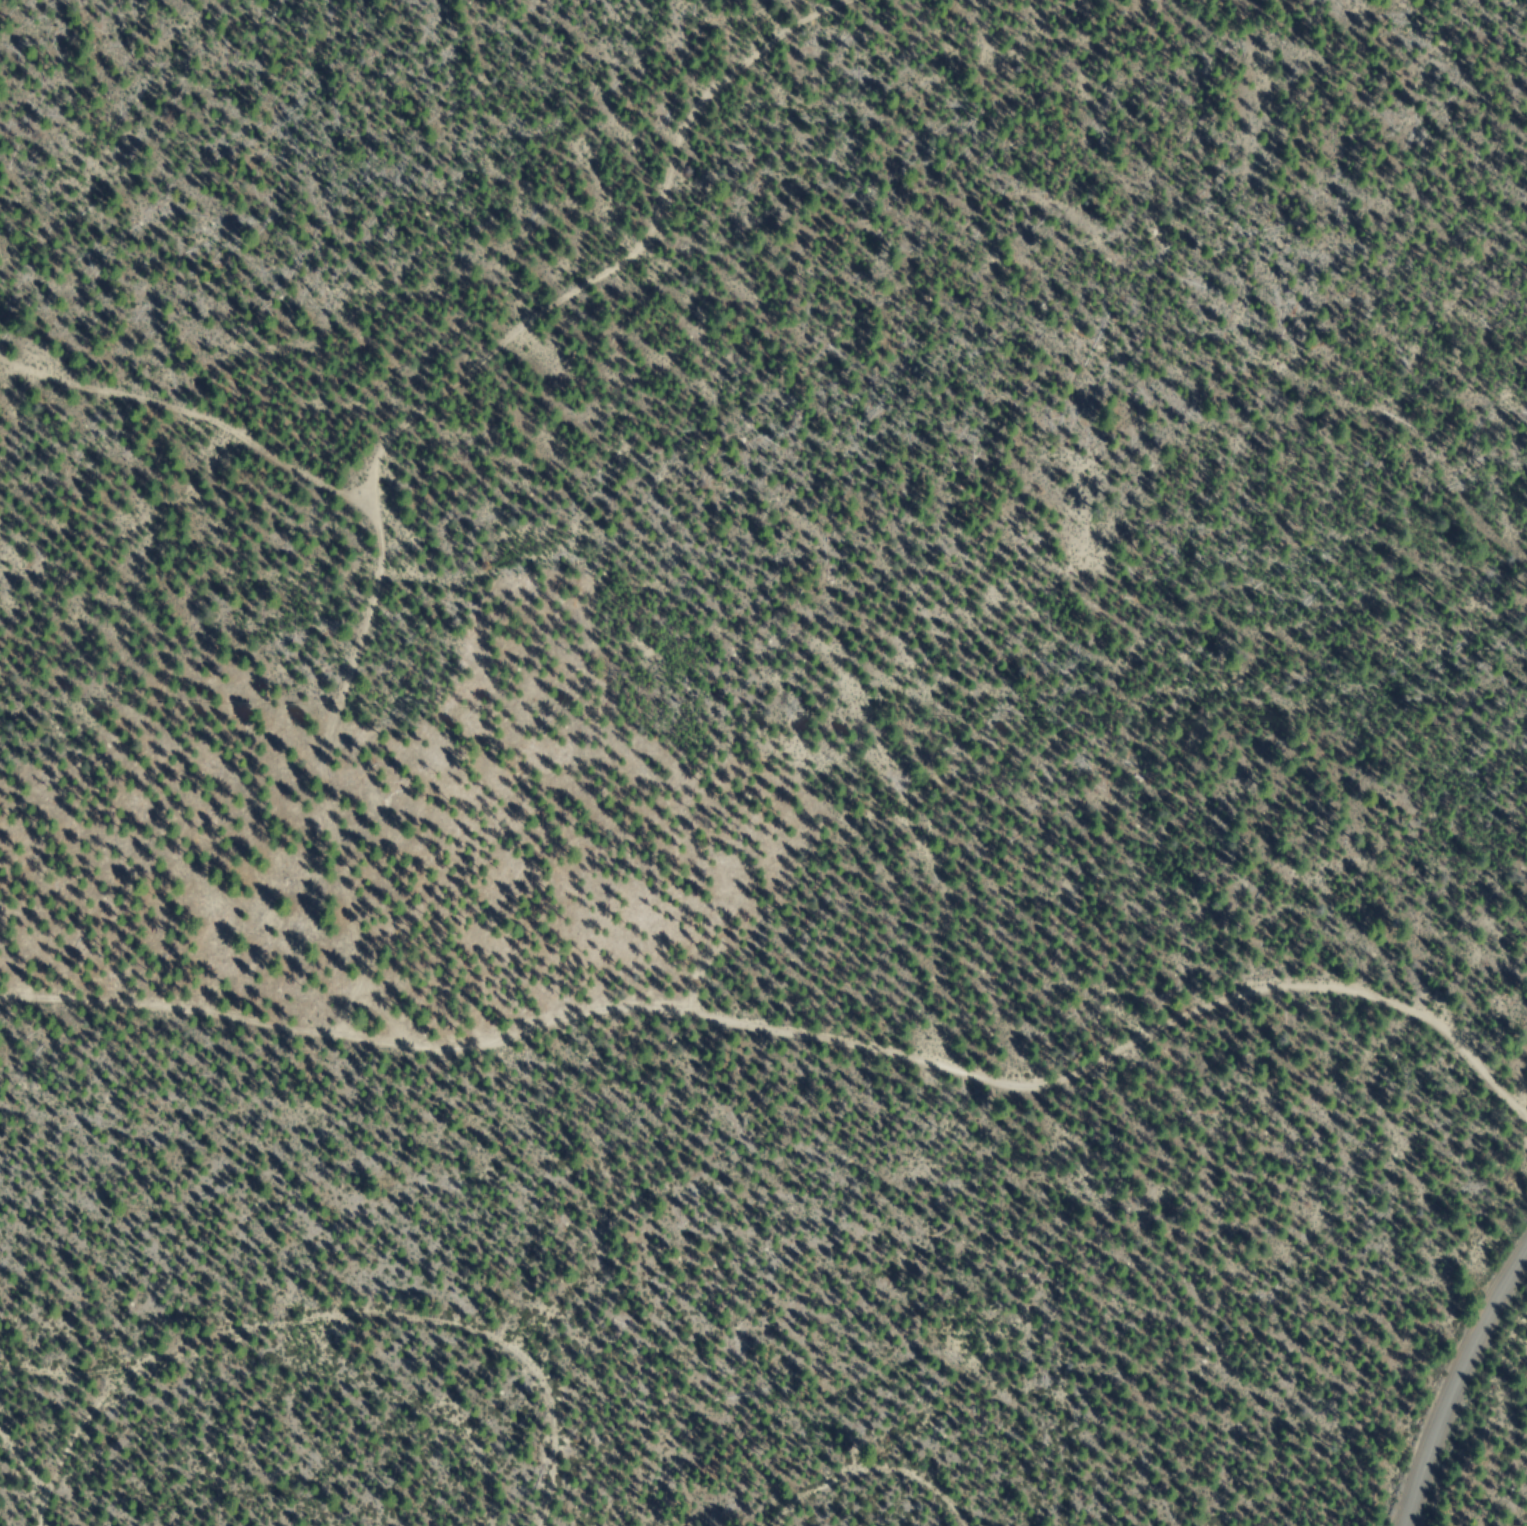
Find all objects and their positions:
road: (492, 374)
road: (188, 471)
road: (814, 966)
road: (341, 1346)
road: (1459, 1386)
road: (27, 1460)
road: (890, 1481)

